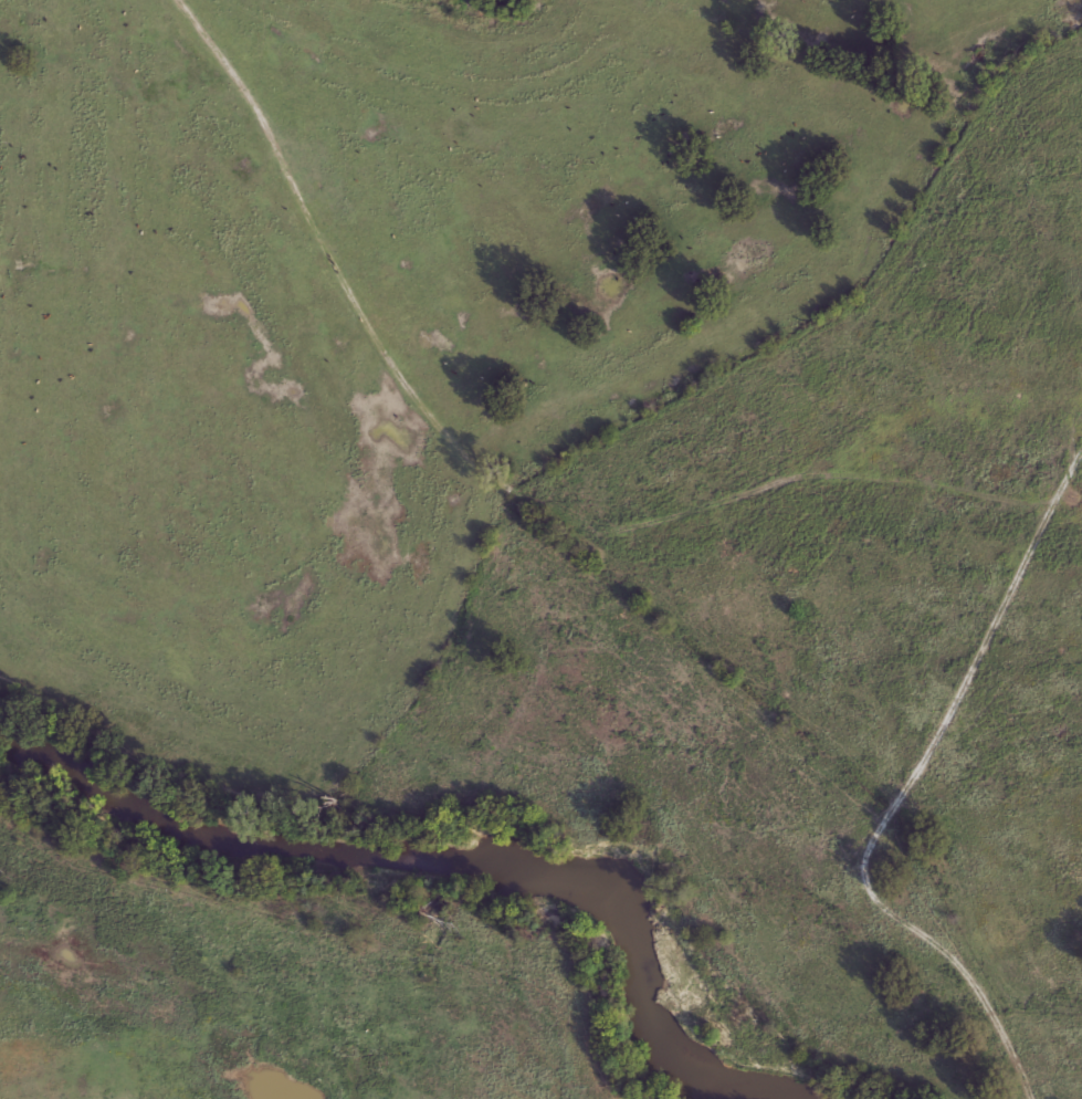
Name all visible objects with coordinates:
road: (347, 302)
road: (834, 504)

